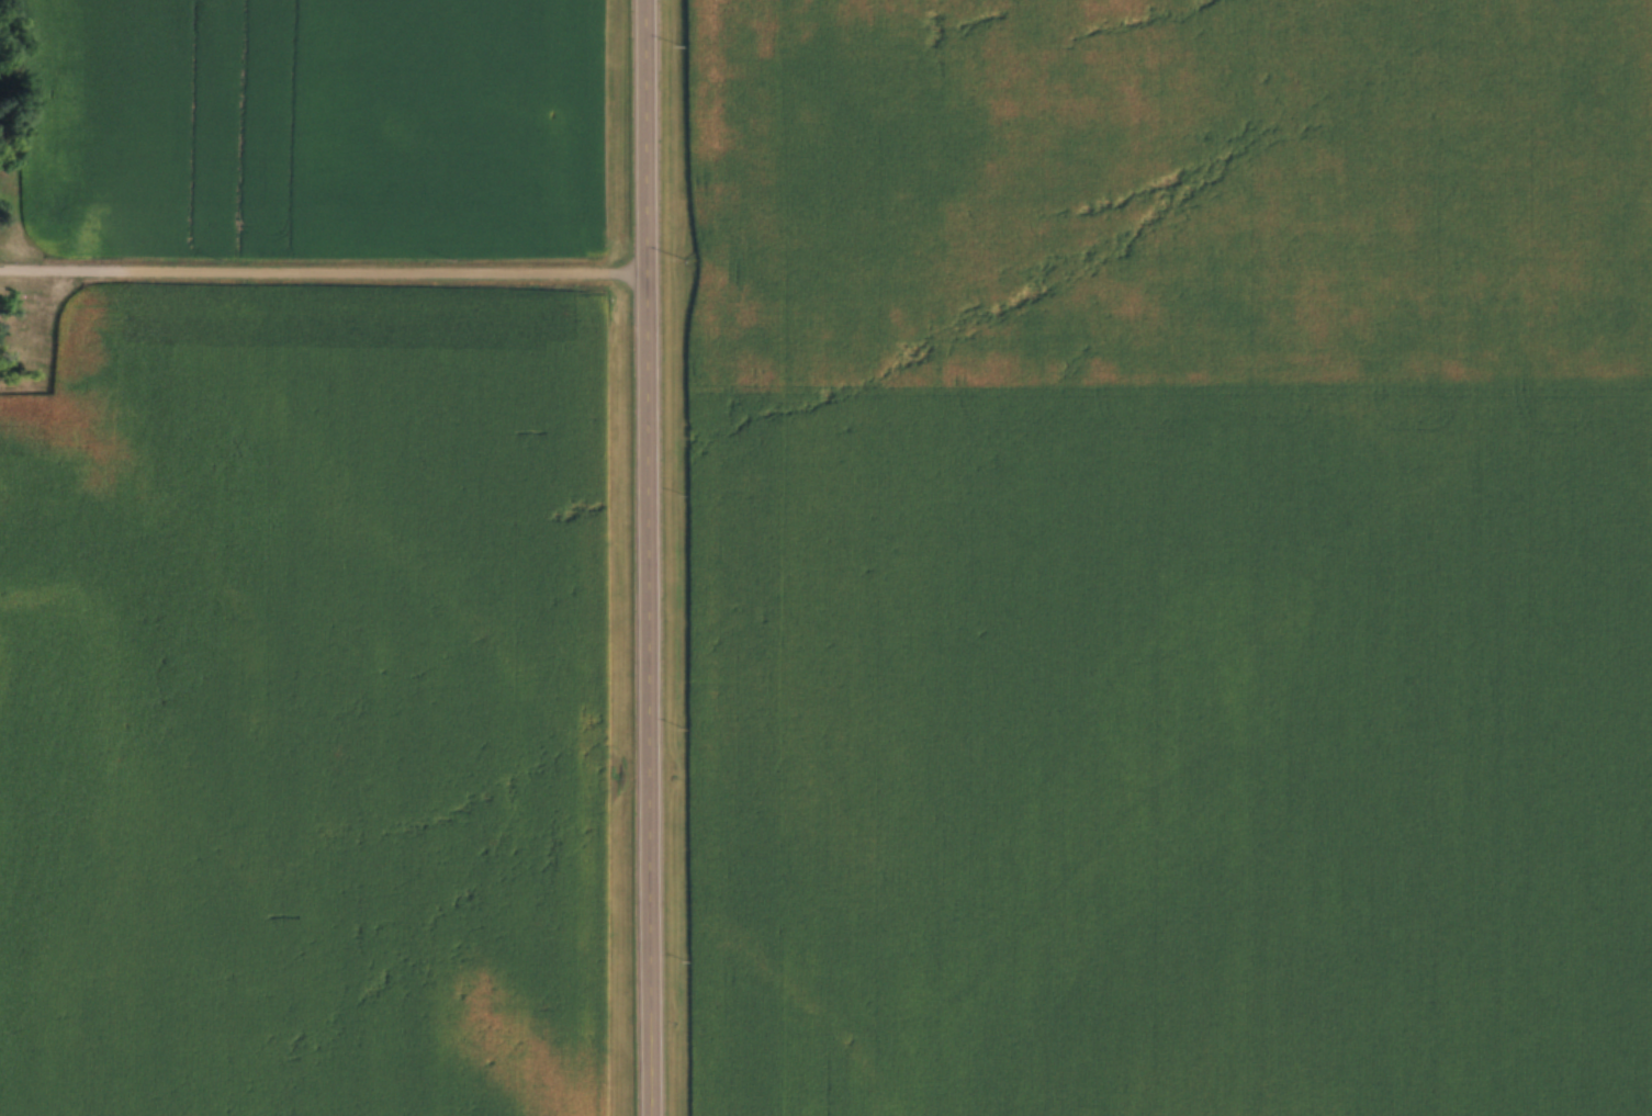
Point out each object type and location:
road: (322, 260)
road: (644, 557)

